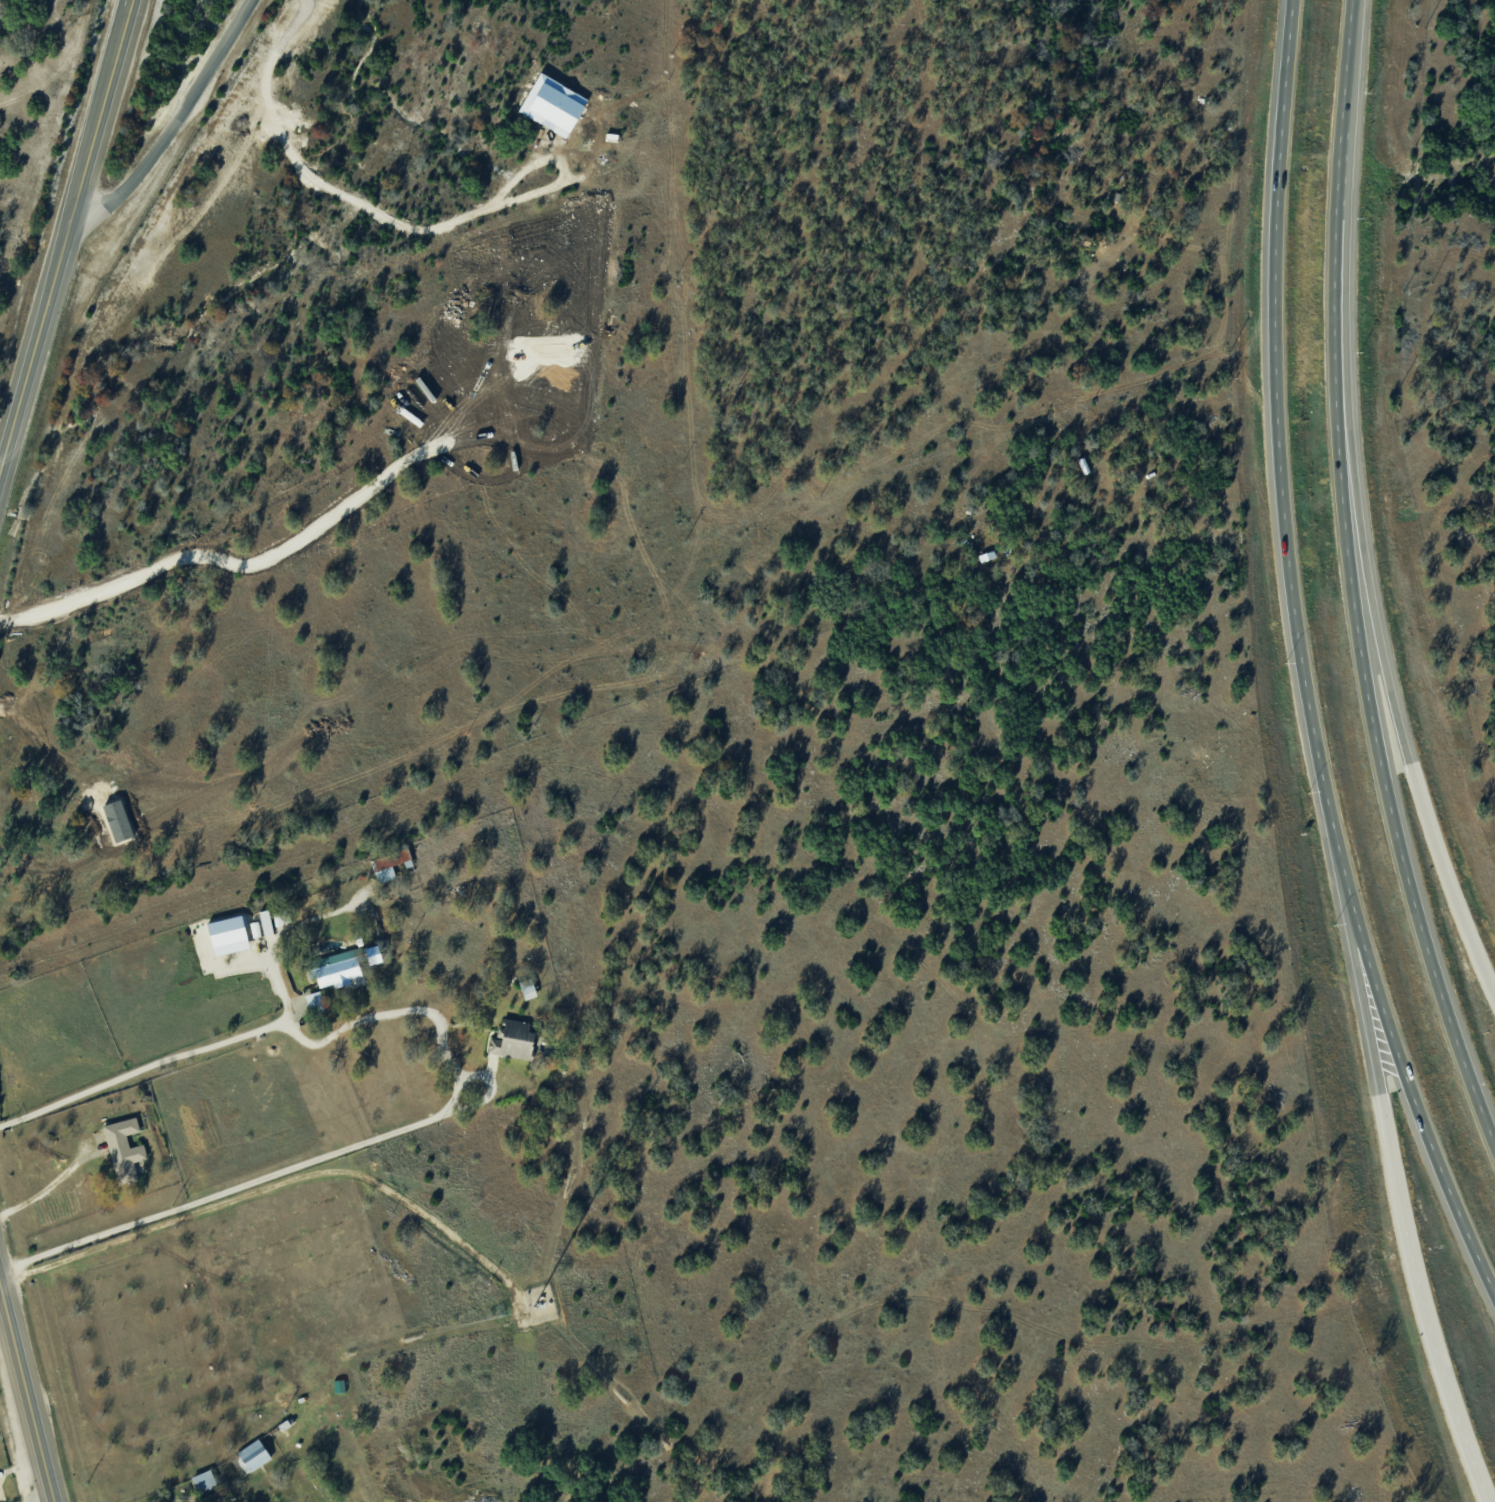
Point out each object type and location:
road: (128, 5)
road: (170, 123)
road: (61, 234)
road: (1277, 438)
road: (1349, 582)
road: (1377, 633)
building: (391, 863)
building: (267, 921)
building: (255, 928)
building: (230, 934)
building: (344, 964)
building: (316, 1001)
building: (519, 1038)
building: (495, 1045)
road: (452, 1063)
road: (1409, 1086)
building: (118, 1152)
road: (48, 1184)
road: (1397, 1191)
road: (2, 1305)
road: (26, 1395)
building: (247, 1460)
building: (204, 1479)
road: (178, 1497)

